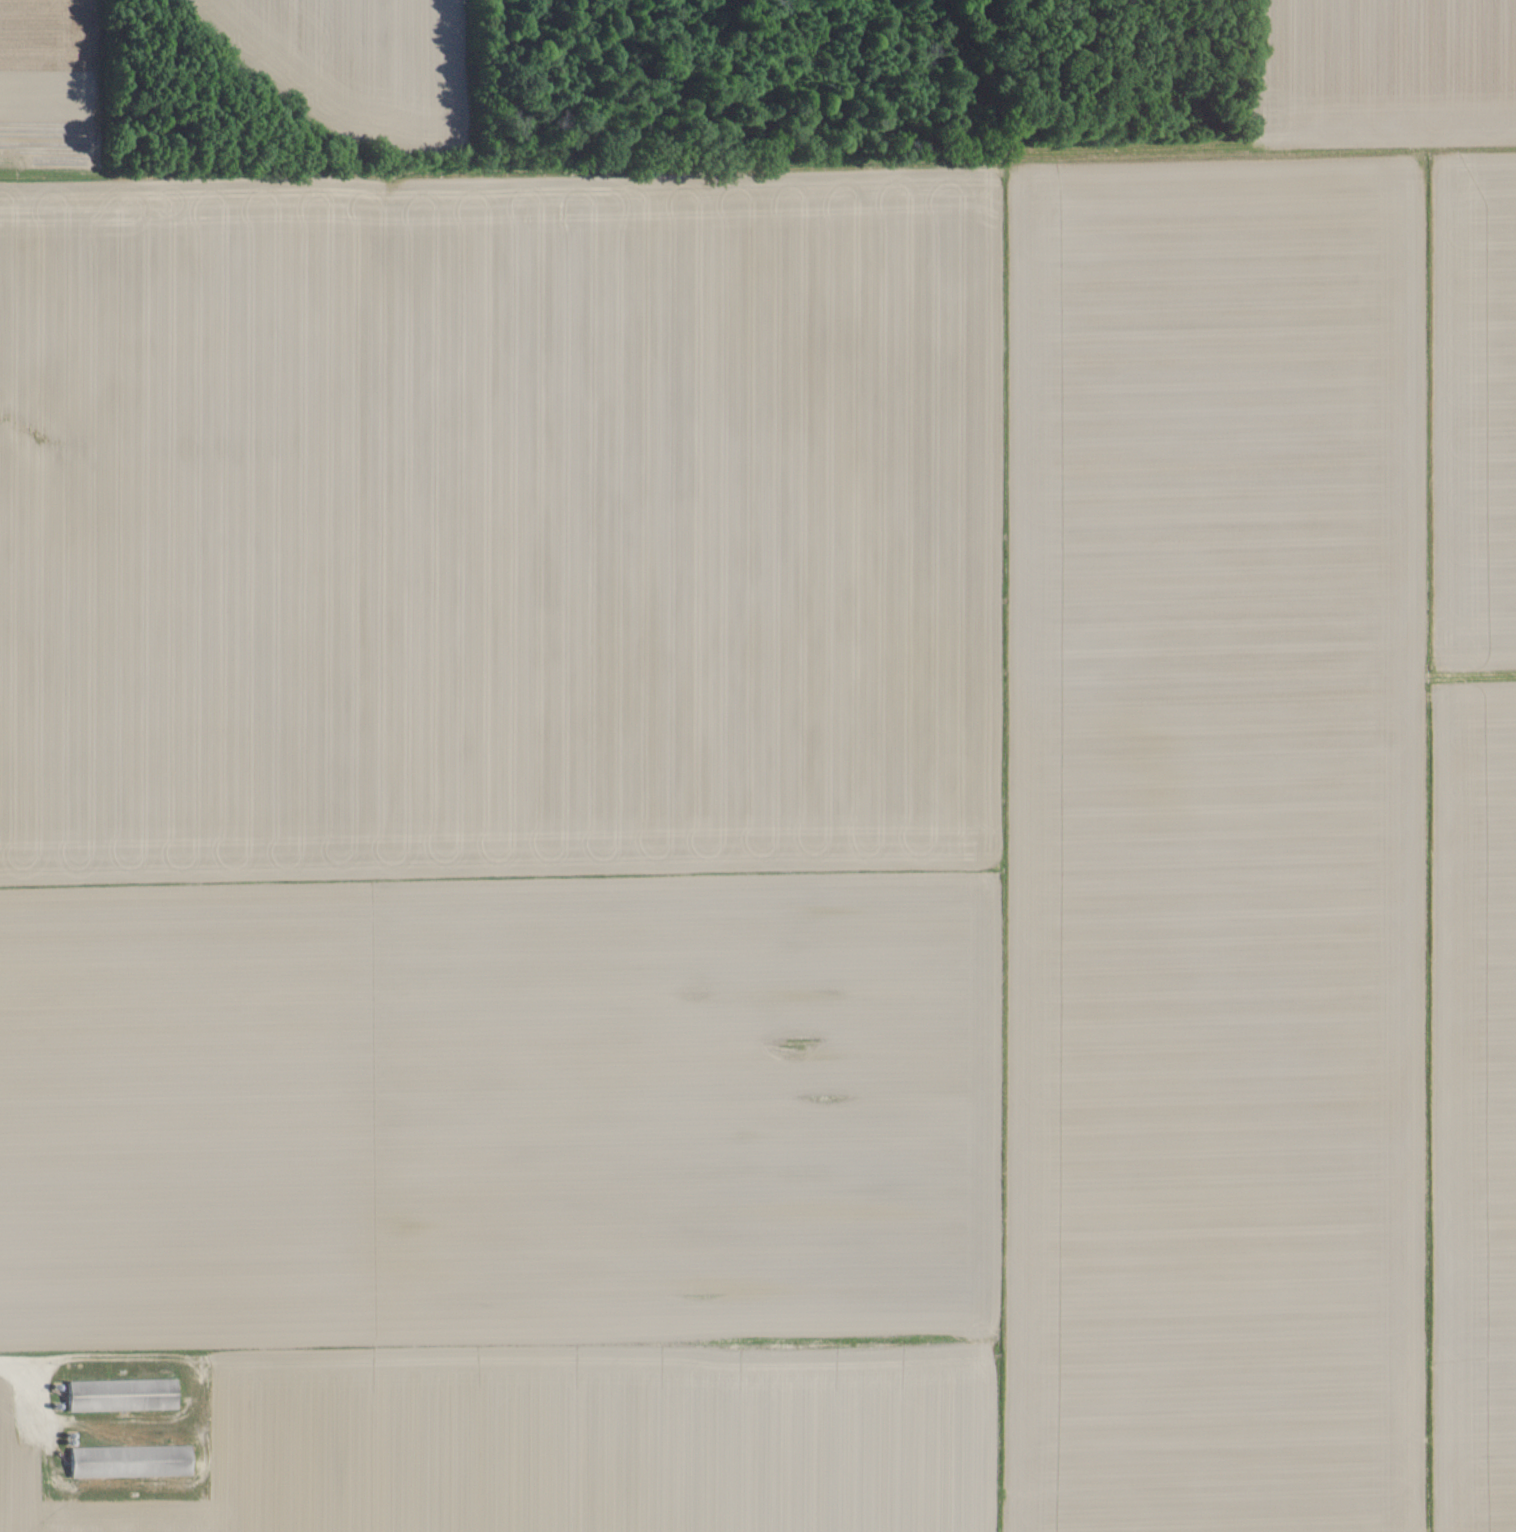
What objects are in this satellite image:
road: (36, 1381)
building: (121, 1463)

